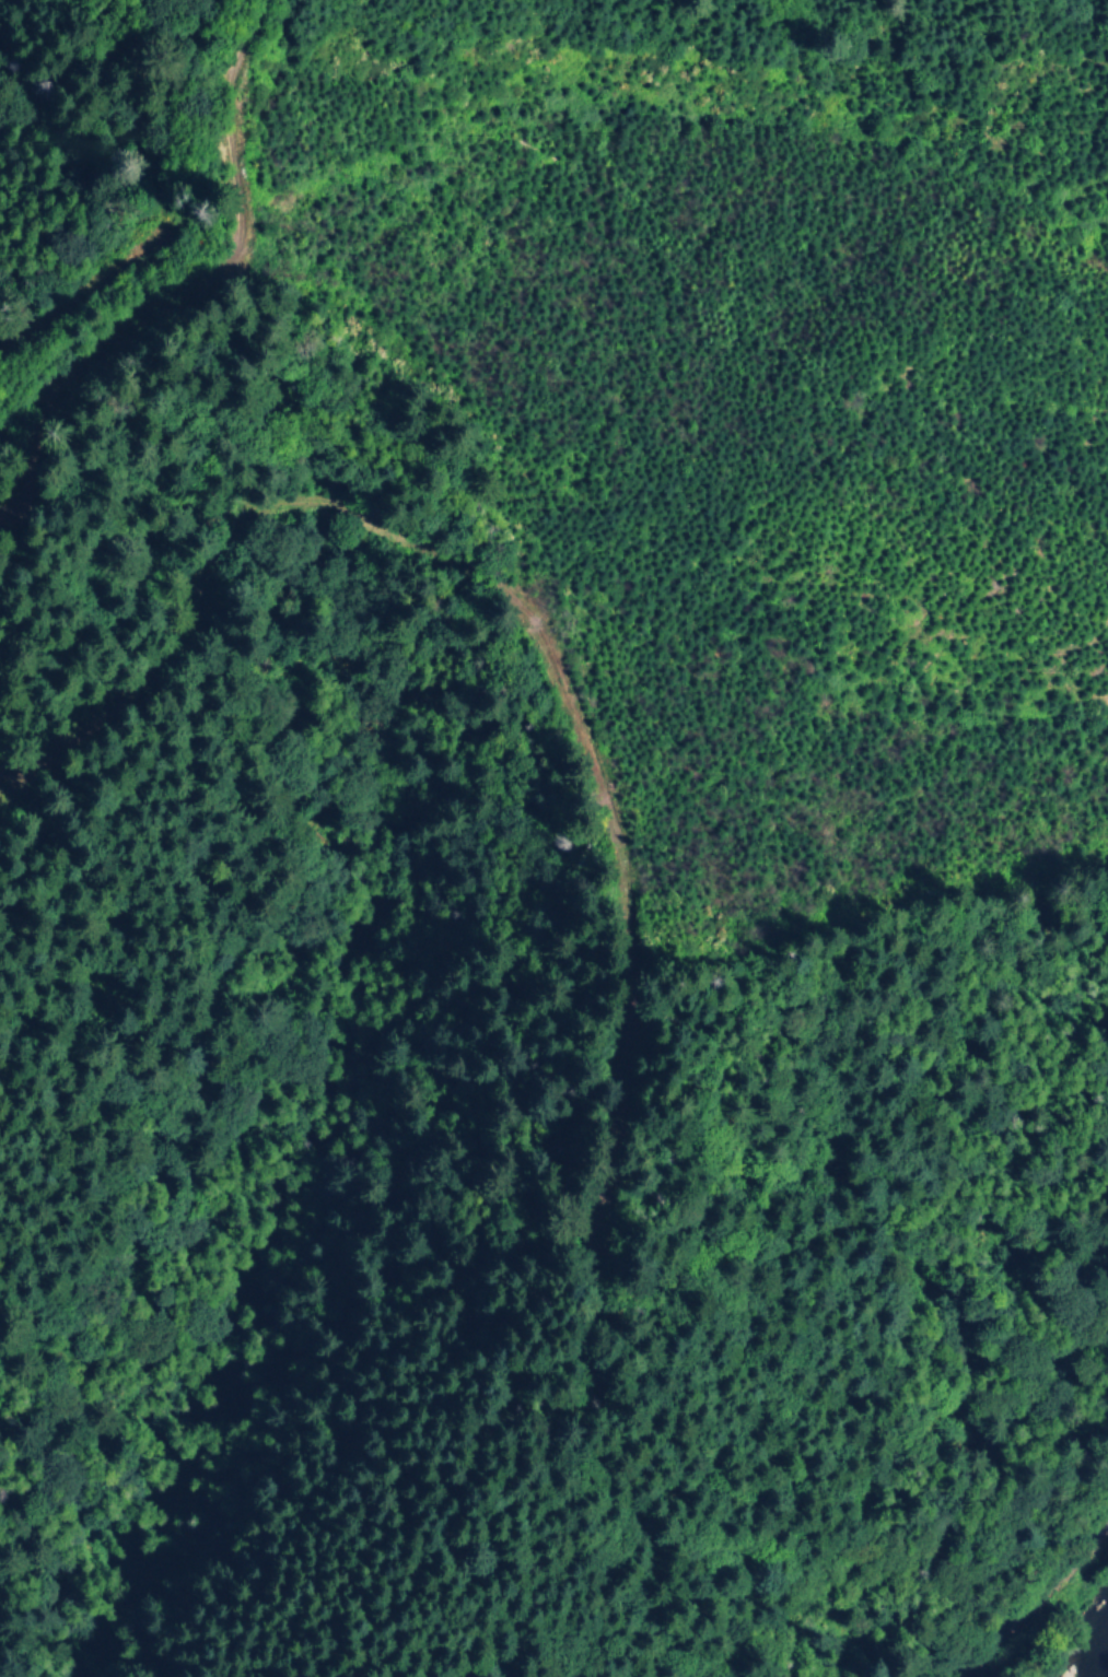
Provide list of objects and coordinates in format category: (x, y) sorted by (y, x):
road: (1027, 1594)
river: (1101, 1665)

